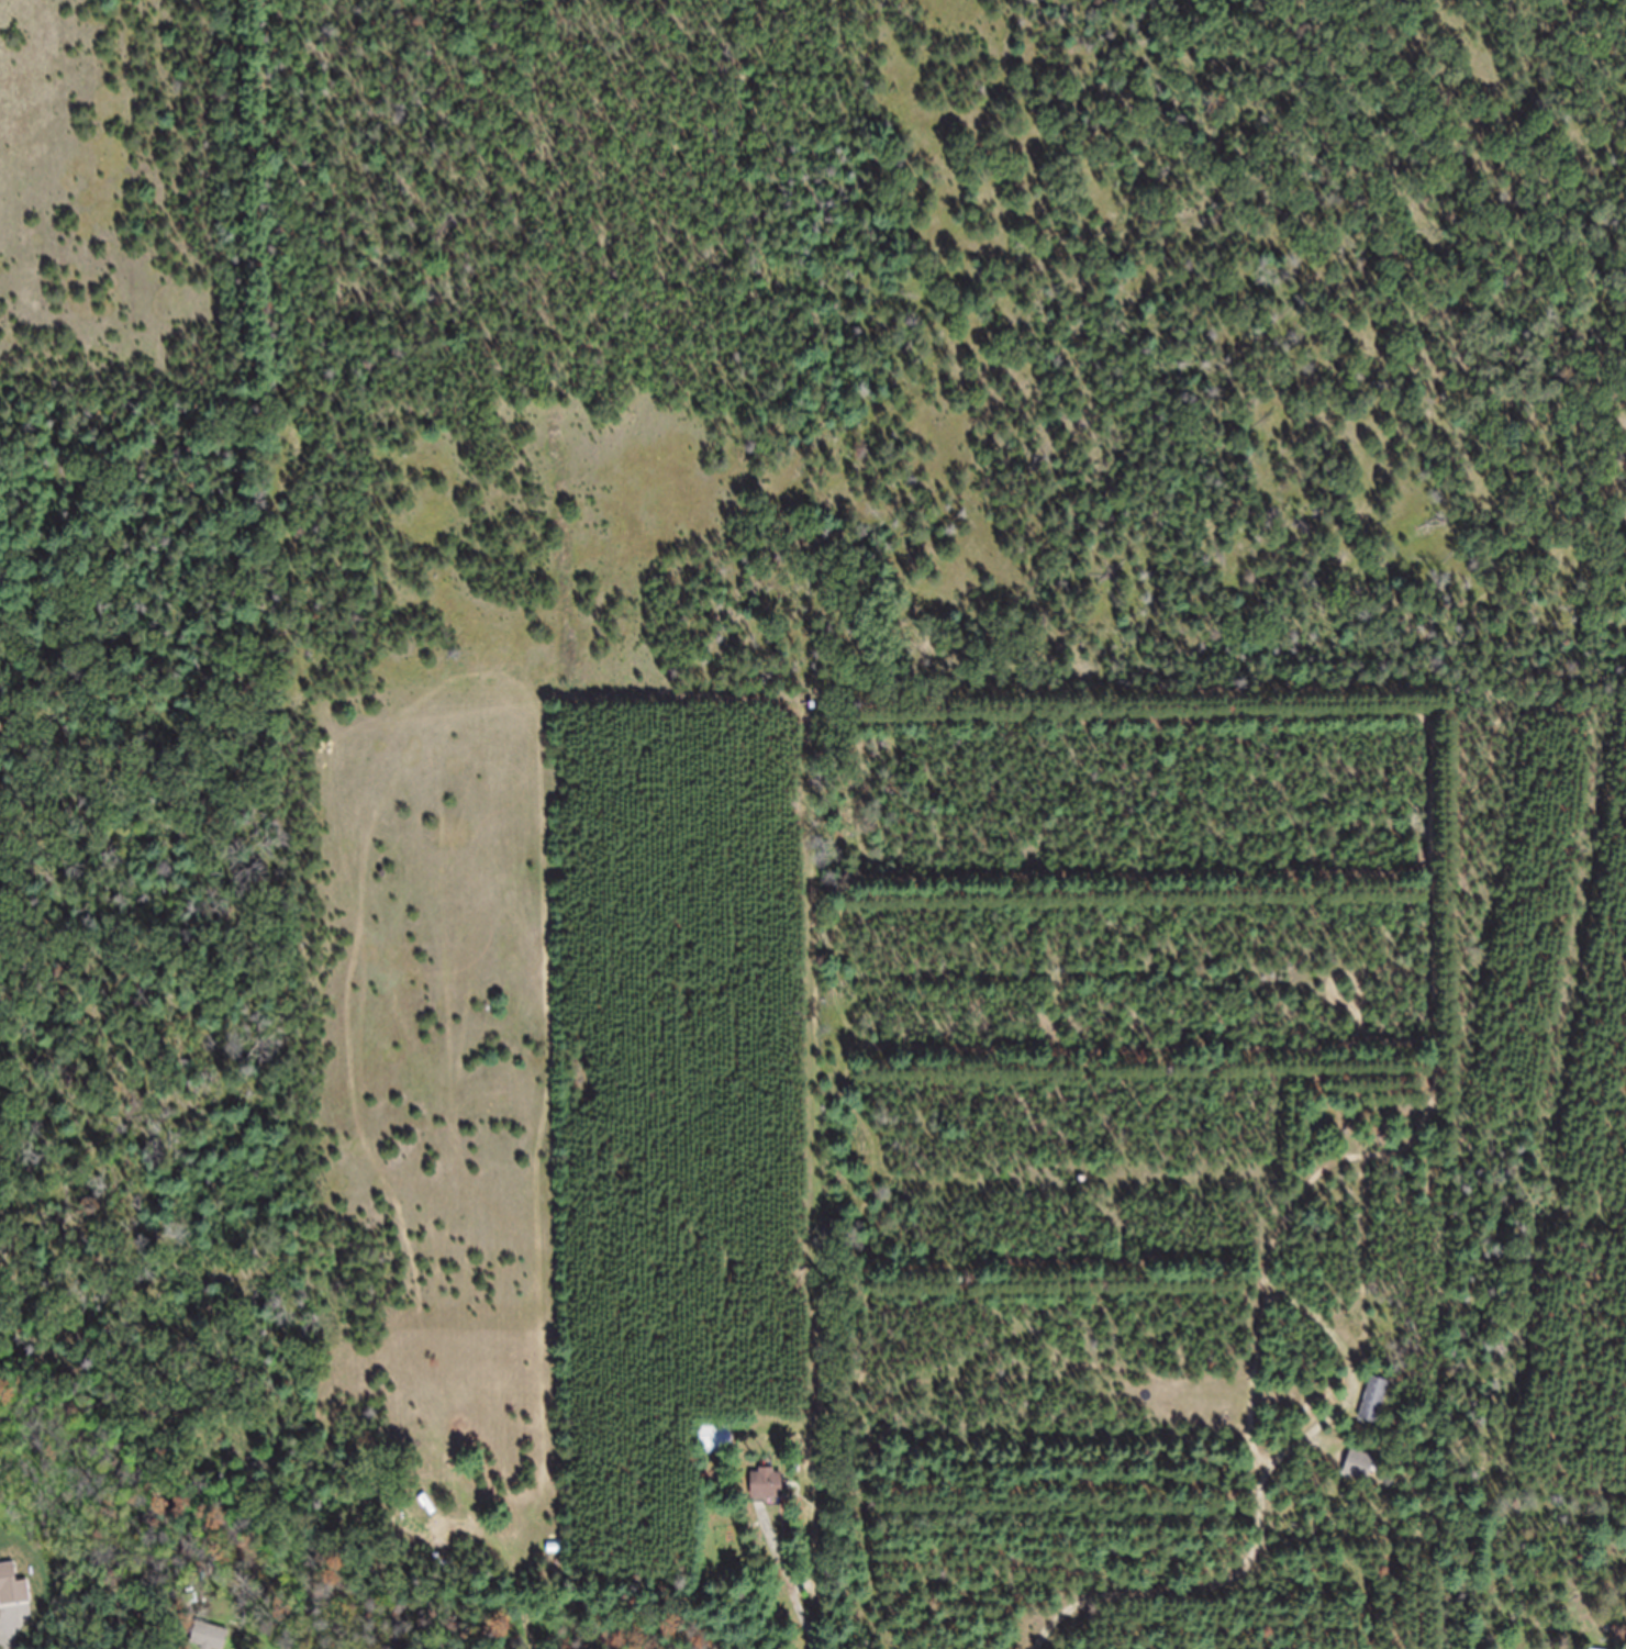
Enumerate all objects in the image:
building: (1376, 1412)
building: (717, 1447)
building: (768, 1496)
building: (9, 1609)
building: (208, 1642)

